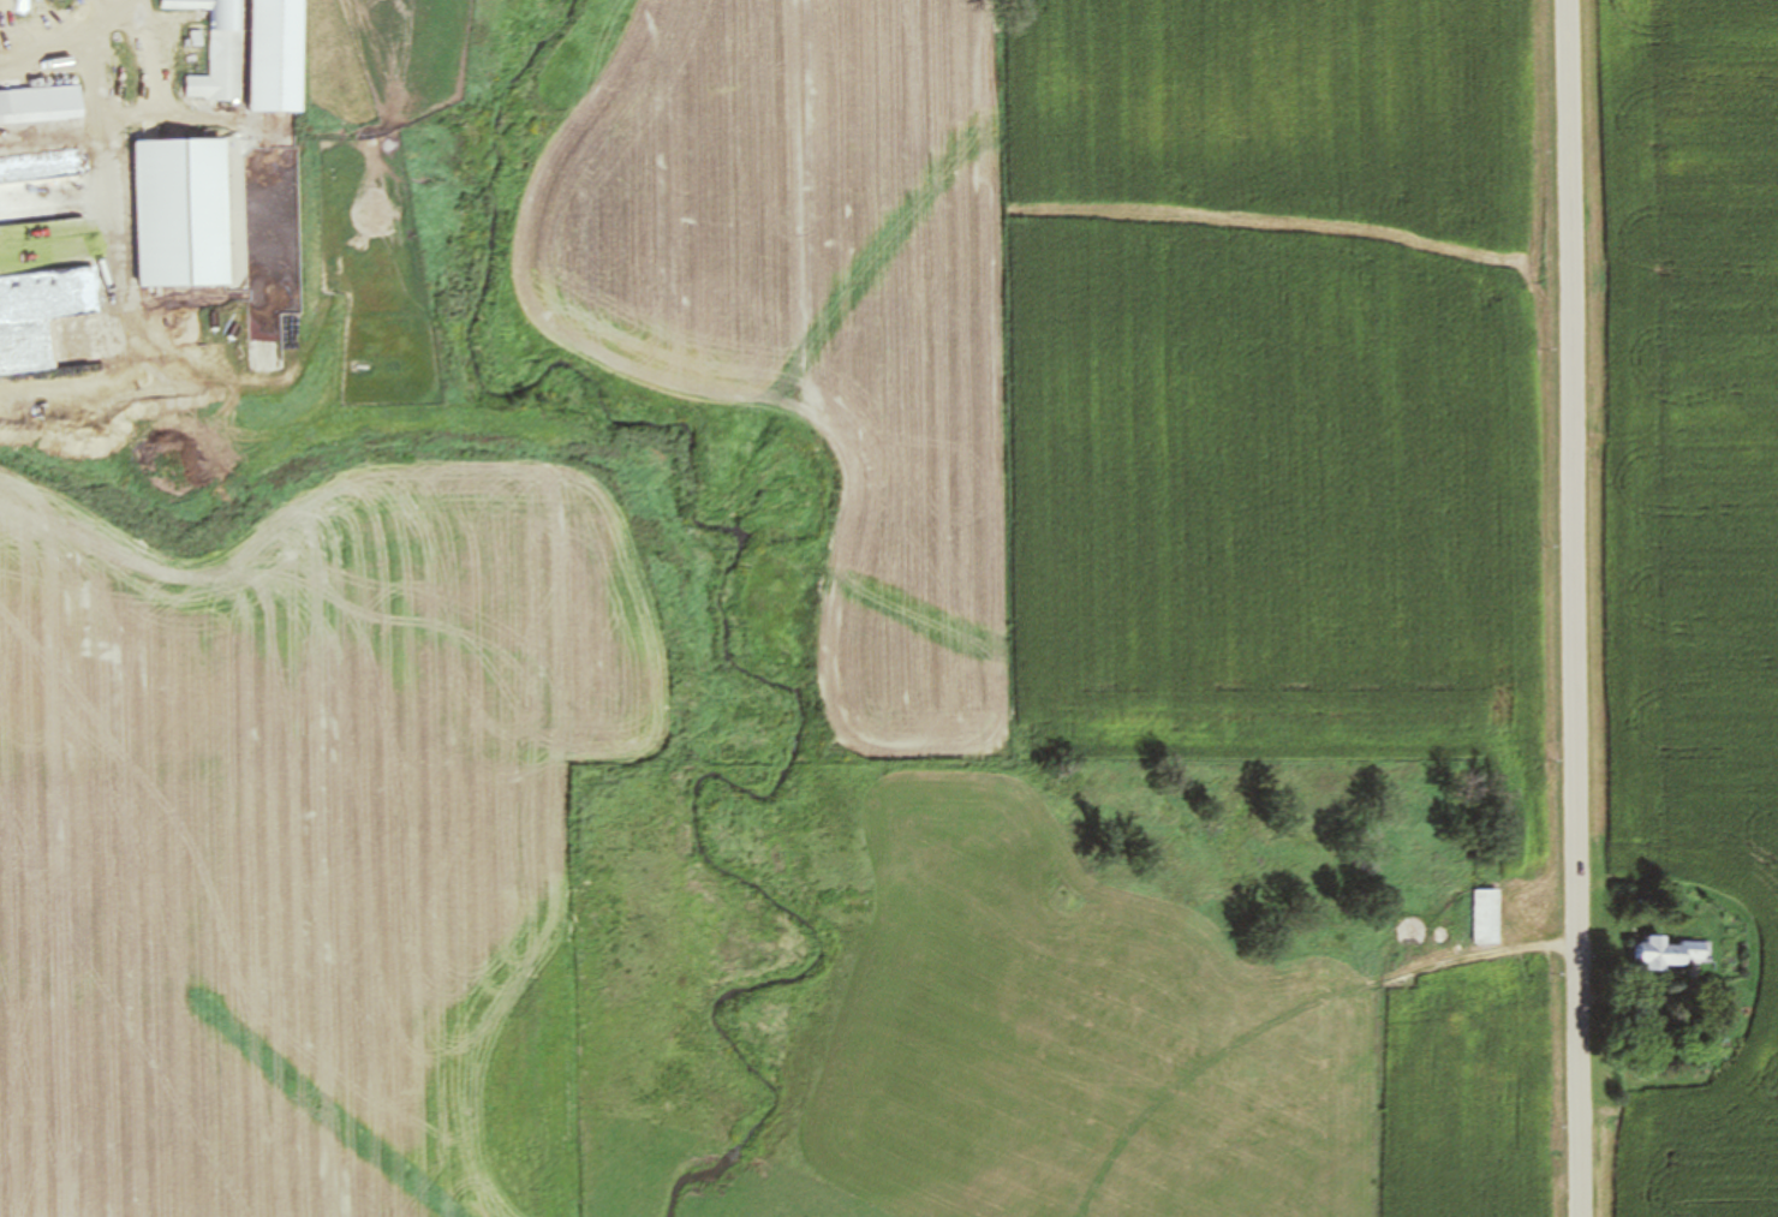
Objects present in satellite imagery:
building: (0, 41)
building: (217, 49)
building: (278, 55)
building: (52, 103)
building: (183, 213)
road: (1571, 608)
building: (1487, 918)
building: (1418, 933)
building: (1670, 954)

